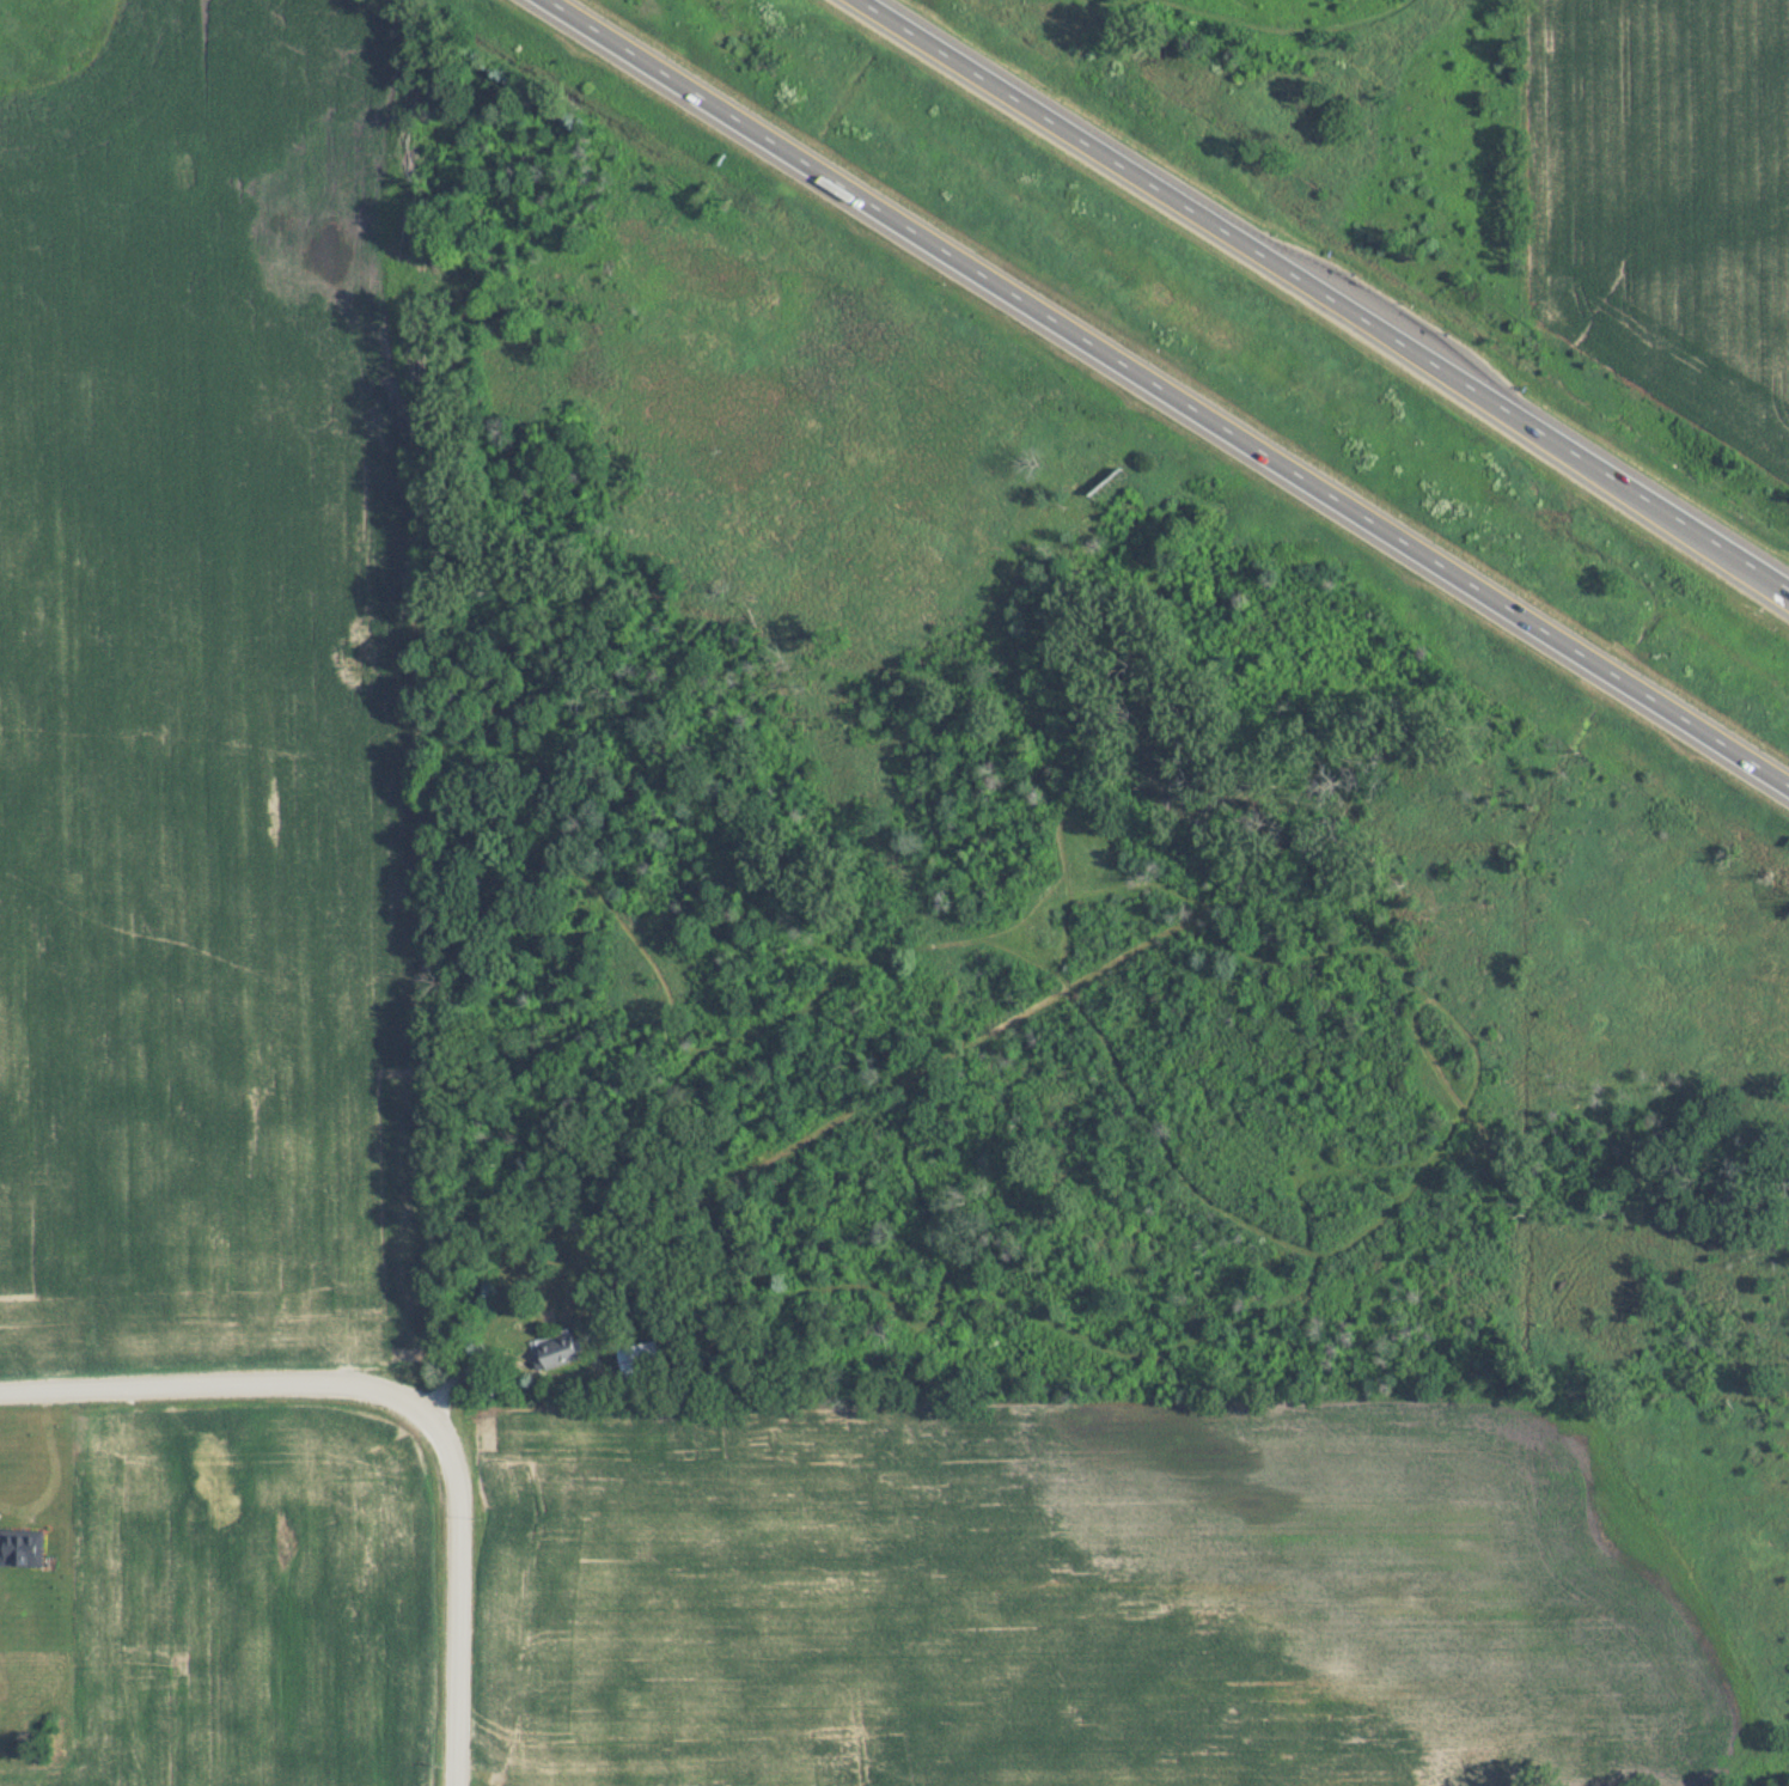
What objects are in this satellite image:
road: (1327, 295)
road: (1159, 394)
building: (556, 1349)
building: (639, 1355)
road: (399, 1410)
building: (212, 1464)
building: (22, 1547)

